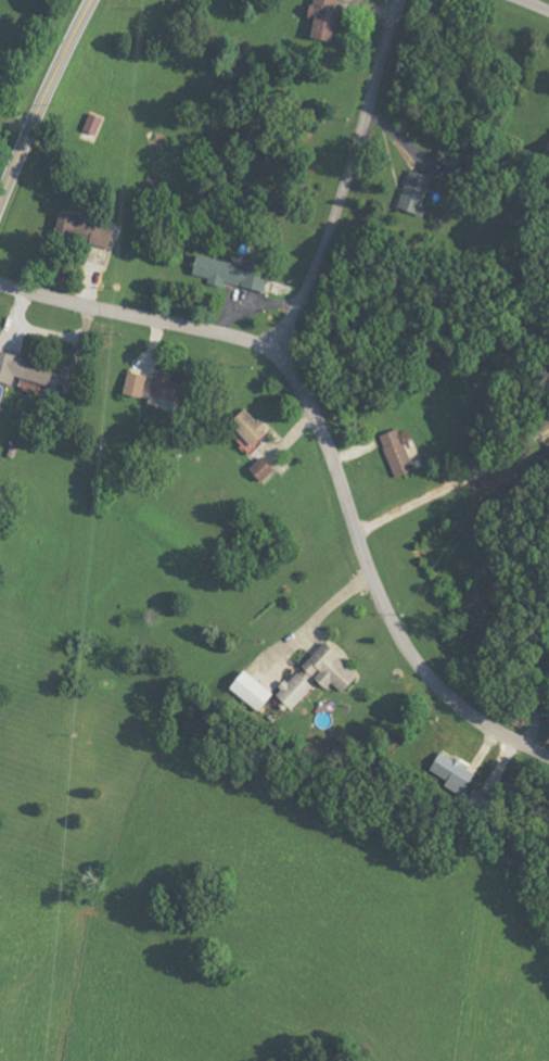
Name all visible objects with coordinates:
road: (534, 5)
building: (317, 24)
road: (43, 100)
building: (91, 125)
building: (547, 156)
road: (346, 181)
building: (409, 190)
building: (94, 235)
building: (227, 274)
building: (20, 374)
building: (130, 384)
building: (244, 427)
road: (330, 447)
building: (395, 452)
building: (260, 472)
road: (454, 484)
road: (315, 616)
building: (293, 683)
road: (538, 702)
building: (447, 771)

